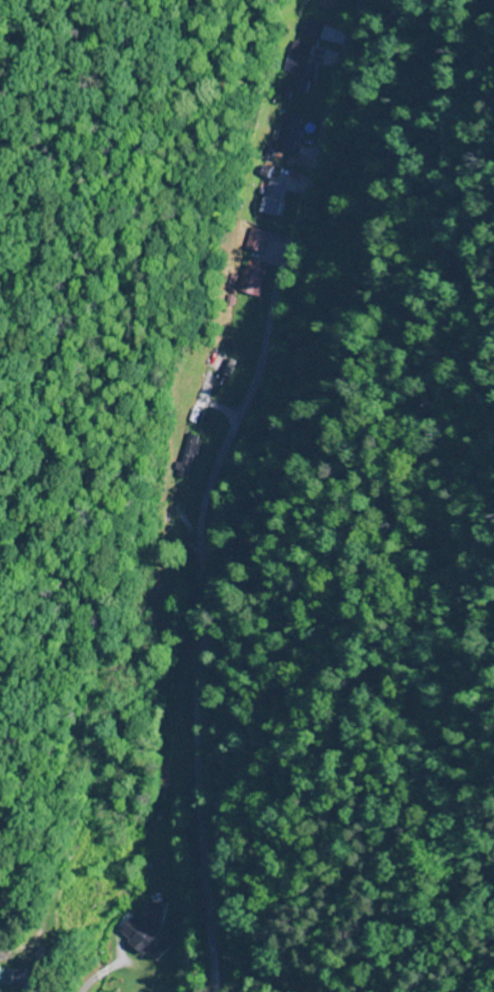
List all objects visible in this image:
building: (314, 31)
building: (303, 68)
building: (289, 134)
building: (275, 196)
building: (257, 240)
building: (253, 280)
road: (210, 486)
building: (152, 926)
road: (100, 974)
building: (12, 979)

